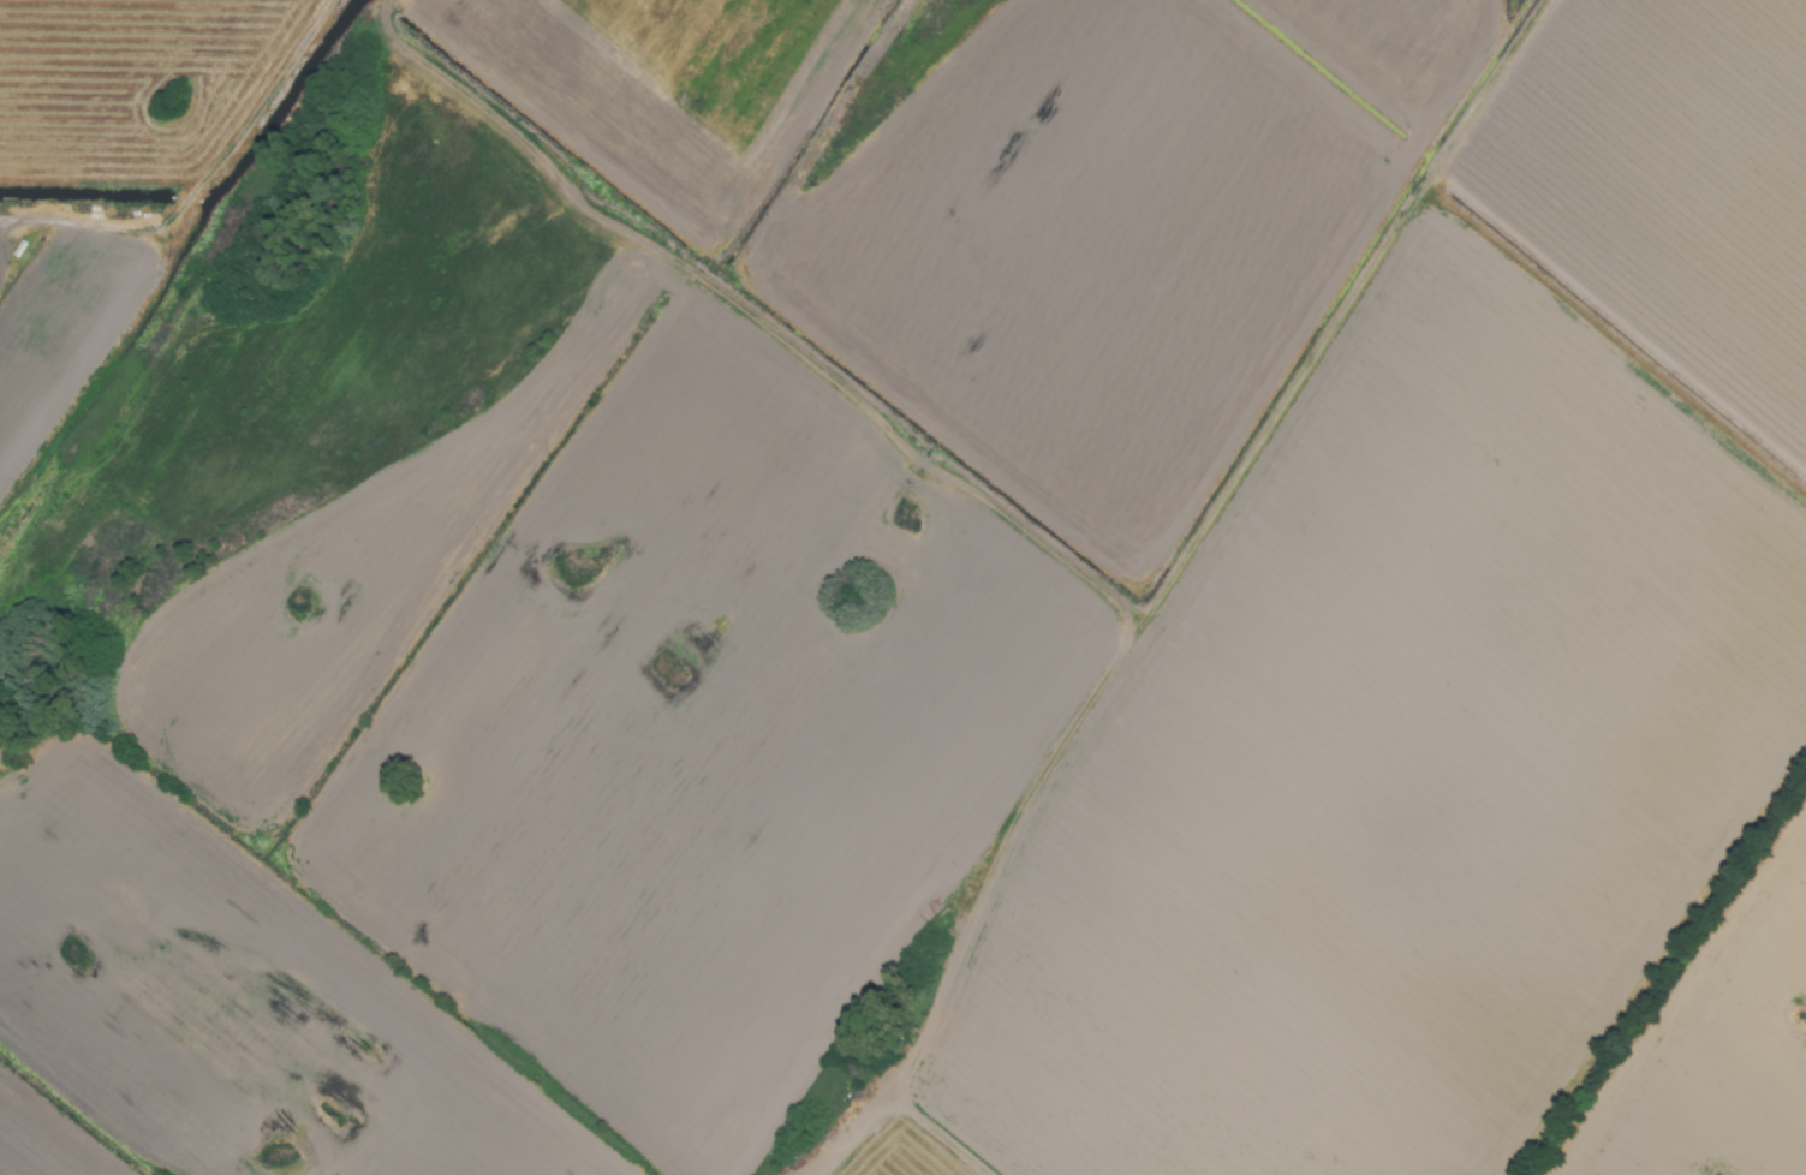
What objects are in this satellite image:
crop: (902, 587)

